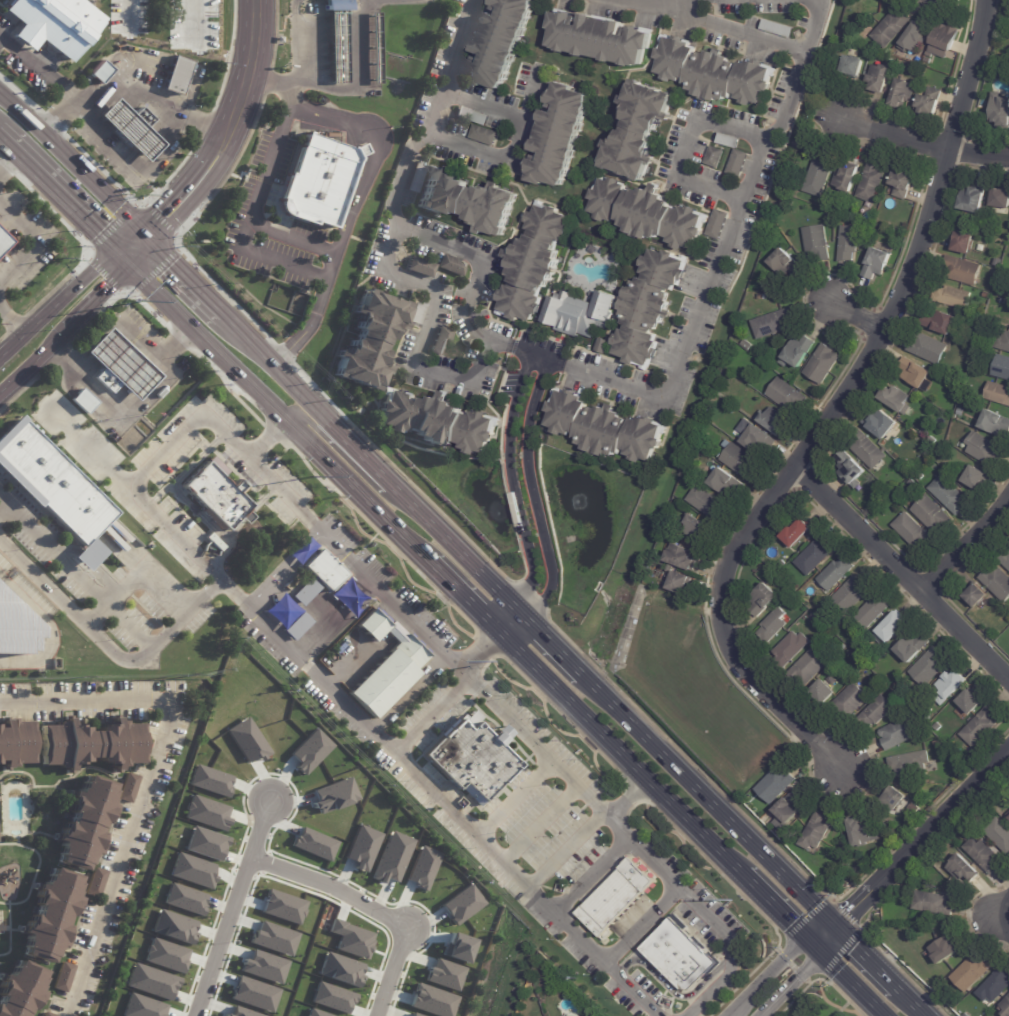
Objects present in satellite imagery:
building: (105, 0)
building: (318, 0)
building: (553, 0)
road: (128, 13)
road: (196, 19)
building: (58, 22)
building: (892, 27)
building: (777, 28)
road: (736, 30)
building: (849, 35)
building: (274, 38)
building: (601, 38)
building: (915, 38)
building: (339, 39)
building: (945, 40)
building: (502, 42)
building: (376, 47)
road: (306, 50)
road: (252, 51)
building: (929, 55)
road: (23, 57)
building: (927, 60)
building: (855, 65)
building: (103, 72)
building: (714, 73)
building: (178, 75)
building: (1007, 75)
building: (881, 77)
road: (361, 79)
road: (266, 80)
road: (125, 84)
building: (903, 93)
building: (930, 101)
building: (1000, 111)
road: (505, 113)
road: (435, 116)
building: (473, 116)
road: (221, 127)
building: (132, 128)
gas station: (132, 128)
building: (640, 129)
building: (485, 135)
building: (560, 136)
building: (728, 140)
road: (687, 145)
road: (924, 145)
road: (11, 147)
road: (374, 152)
road: (6, 156)
building: (715, 156)
road: (493, 157)
building: (739, 163)
road: (127, 169)
road: (76, 170)
building: (418, 176)
building: (820, 176)
building: (847, 179)
building: (321, 180)
road: (211, 181)
building: (872, 182)
building: (904, 183)
road: (170, 190)
building: (787, 192)
road: (741, 198)
building: (974, 198)
building: (1001, 199)
building: (469, 200)
road: (68, 202)
traffic signals: (156, 206)
building: (647, 213)
building: (719, 224)
traffic signals: (99, 232)
road: (281, 233)
road: (125, 236)
road: (36, 241)
building: (4, 242)
building: (818, 243)
building: (849, 243)
building: (965, 243)
road: (142, 253)
road: (123, 254)
building: (999, 262)
building: (535, 263)
traffic signals: (172, 264)
building: (787, 264)
building: (877, 264)
building: (454, 265)
building: (421, 267)
road: (479, 270)
building: (963, 270)
road: (185, 276)
traffic signals: (107, 288)
road: (100, 294)
building: (986, 295)
building: (761, 297)
building: (954, 297)
road: (56, 301)
power tower: (143, 302)
building: (648, 306)
building: (418, 313)
building: (582, 314)
road: (856, 315)
road: (114, 319)
building: (942, 322)
road: (11, 323)
building: (773, 323)
road: (425, 334)
building: (372, 340)
building: (441, 341)
building: (1004, 342)
building: (747, 345)
building: (603, 347)
building: (928, 348)
building: (799, 352)
road: (533, 355)
road: (34, 359)
building: (823, 364)
building: (120, 366)
building: (1002, 367)
building: (917, 373)
road: (611, 383)
building: (998, 393)
building: (788, 396)
building: (897, 399)
road: (124, 400)
building: (962, 400)
building: (84, 401)
road: (309, 401)
building: (732, 410)
road: (835, 410)
building: (960, 411)
road: (280, 412)
building: (775, 421)
building: (439, 423)
building: (995, 423)
building: (882, 424)
building: (601, 428)
road: (223, 432)
road: (266, 436)
building: (757, 438)
building: (932, 440)
building: (984, 448)
building: (868, 449)
road: (339, 454)
building: (740, 461)
building: (851, 469)
building: (919, 476)
power tower: (313, 477)
building: (977, 478)
road: (514, 482)
building: (727, 483)
building: (912, 483)
building: (54, 488)
building: (217, 493)
road: (156, 494)
road: (533, 494)
building: (949, 495)
road: (181, 500)
building: (707, 503)
road: (3, 506)
building: (932, 515)
building: (699, 529)
building: (913, 532)
building: (798, 534)
road: (967, 549)
road: (459, 551)
building: (815, 557)
building: (1004, 557)
building: (683, 558)
building: (782, 564)
road: (75, 572)
road: (133, 574)
building: (836, 574)
building: (320, 577)
road: (899, 581)
building: (998, 583)
building: (681, 584)
road: (463, 594)
building: (850, 596)
building: (978, 596)
building: (762, 600)
road: (197, 601)
building: (874, 611)
road: (508, 617)
road: (412, 624)
building: (298, 626)
building: (773, 627)
building: (893, 627)
building: (15, 628)
road: (44, 630)
road: (552, 640)
building: (843, 647)
building: (913, 647)
building: (791, 649)
power tower: (499, 663)
building: (388, 666)
building: (808, 668)
building: (930, 668)
building: (950, 688)
building: (825, 693)
building: (909, 701)
building: (850, 703)
building: (971, 703)
building: (876, 713)
road: (428, 715)
building: (927, 716)
building: (937, 727)
building: (981, 728)
building: (899, 734)
building: (15, 743)
building: (938, 744)
building: (93, 745)
building: (954, 746)
road: (537, 748)
road: (620, 750)
building: (472, 757)
building: (910, 764)
building: (210, 780)
road: (146, 783)
building: (777, 786)
building: (129, 788)
road: (435, 795)
road: (512, 797)
road: (709, 800)
building: (897, 802)
road: (616, 803)
building: (789, 810)
building: (207, 813)
building: (1008, 816)
building: (86, 824)
road: (540, 824)
building: (817, 832)
building: (861, 834)
building: (999, 834)
road: (921, 840)
building: (206, 844)
road: (566, 850)
building: (983, 855)
building: (192, 871)
building: (964, 871)
building: (96, 883)
road: (672, 885)
building: (619, 896)
building: (185, 899)
power tower: (734, 900)
building: (934, 904)
building: (282, 907)
road: (232, 908)
road: (371, 908)
road: (779, 908)
traffic signals: (851, 910)
building: (51, 916)
traffic signals: (792, 921)
road: (638, 924)
road: (995, 924)
building: (174, 927)
road: (824, 935)
traffic signals: (855, 947)
building: (946, 951)
building: (166, 955)
building: (679, 955)
road: (866, 957)
traffic signals: (803, 970)
road: (765, 973)
building: (972, 974)
building: (64, 978)
road: (851, 980)
building: (151, 981)
road: (790, 982)
building: (996, 987)
building: (21, 991)
road: (913, 1002)
building: (143, 1007)
building: (1005, 1007)
building: (254, 1014)
building: (46, 1015)
building: (563, 1015)
building: (965, 1015)

